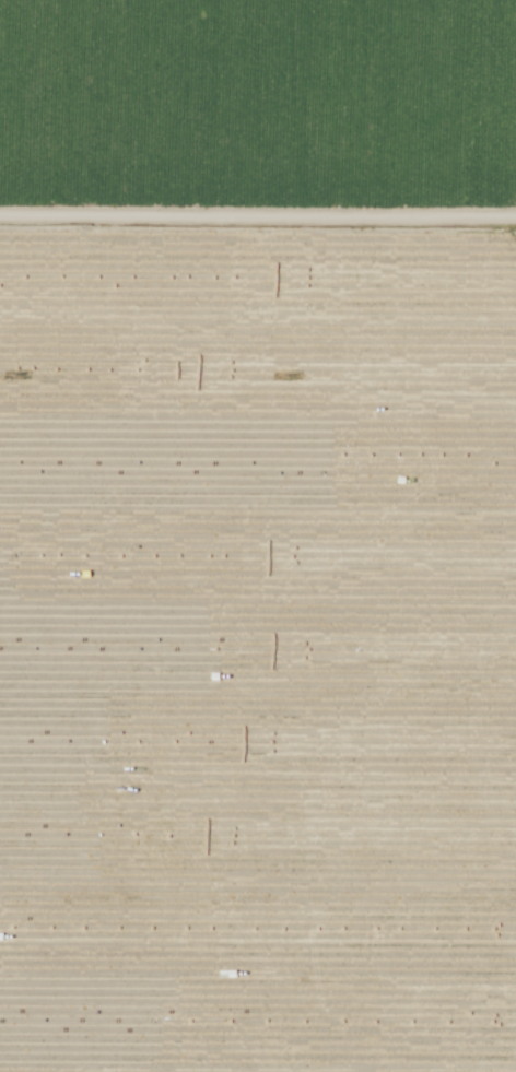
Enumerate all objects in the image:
crop: (257, 121)
road: (258, 211)
crop: (258, 309)
crop: (258, 722)

